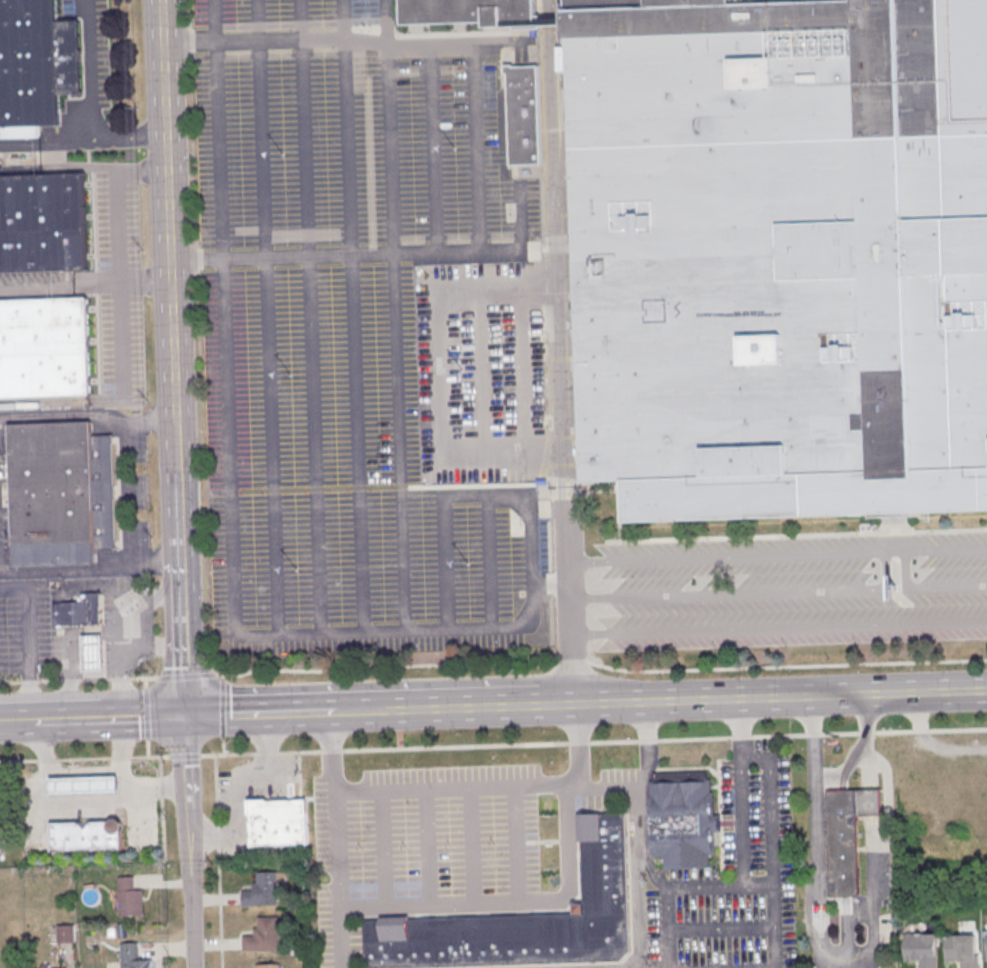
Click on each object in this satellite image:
road: (550, 5)
building: (466, 13)
road: (341, 21)
road: (385, 22)
road: (349, 43)
building: (36, 62)
road: (92, 99)
building: (524, 114)
road: (258, 129)
road: (304, 129)
road: (217, 130)
road: (53, 143)
road: (347, 148)
road: (432, 158)
road: (389, 208)
building: (42, 222)
building: (780, 254)
road: (373, 255)
road: (168, 270)
road: (119, 276)
road: (144, 283)
road: (60, 289)
building: (499, 300)
parking lot: (369, 342)
building: (44, 346)
road: (271, 365)
road: (564, 366)
road: (522, 371)
road: (480, 373)
road: (354, 375)
road: (440, 375)
road: (229, 377)
road: (313, 377)
road: (48, 403)
road: (97, 408)
road: (88, 415)
building: (60, 492)
road: (127, 493)
road: (472, 494)
road: (934, 548)
road: (274, 555)
road: (489, 563)
road: (447, 564)
road: (359, 566)
road: (318, 567)
road: (884, 569)
road: (91, 571)
road: (532, 572)
road: (927, 586)
parking lot: (789, 592)
road: (125, 594)
building: (80, 611)
road: (184, 627)
road: (781, 628)
road: (314, 637)
road: (30, 642)
road: (121, 649)
road: (72, 650)
building: (93, 652)
road: (598, 666)
road: (186, 676)
road: (77, 679)
road: (146, 684)
road: (783, 694)
road: (560, 702)
road: (464, 705)
road: (361, 709)
road: (308, 710)
road: (233, 712)
traffic signals: (186, 714)
road: (110, 717)
road: (148, 717)
road: (17, 721)
road: (742, 728)
road: (594, 741)
road: (578, 746)
road: (648, 747)
road: (150, 752)
road: (120, 758)
road: (186, 759)
road: (188, 760)
road: (85, 761)
road: (235, 781)
building: (85, 785)
gas station: (85, 785)
road: (452, 788)
road: (74, 803)
road: (334, 808)
building: (0, 819)
building: (684, 820)
building: (280, 822)
parking lot: (428, 833)
building: (87, 836)
road: (569, 836)
building: (850, 837)
road: (745, 838)
road: (515, 845)
road: (470, 846)
road: (426, 848)
road: (383, 849)
road: (218, 860)
parking lot: (734, 878)
road: (190, 888)
building: (263, 891)
building: (131, 898)
building: (528, 921)
building: (66, 933)
building: (264, 936)
road: (341, 938)
building: (986, 943)
road: (776, 948)
building: (923, 950)
building: (963, 950)
building: (133, 957)
building: (49, 966)
building: (269, 966)
road: (855, 966)

